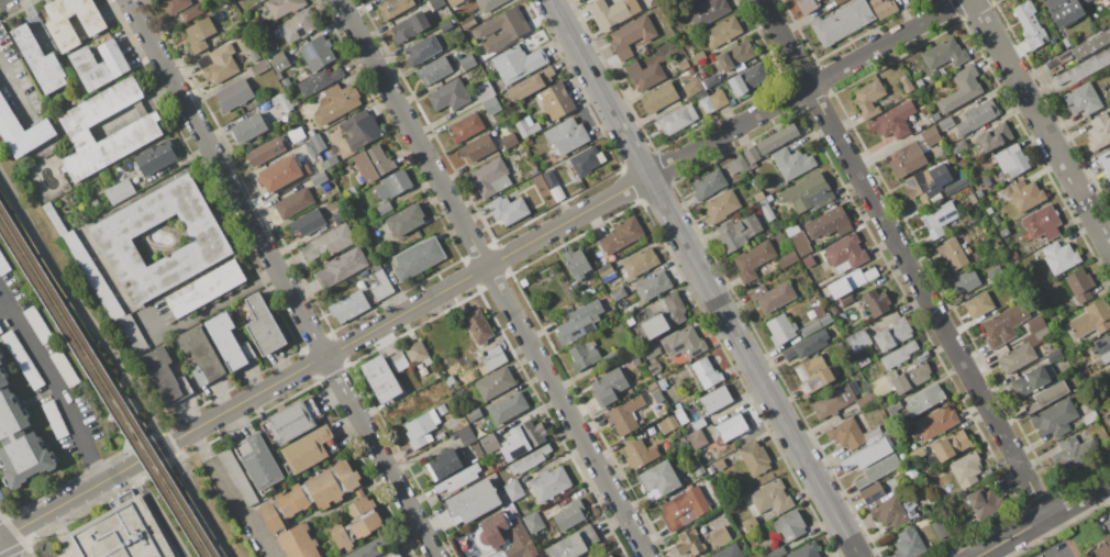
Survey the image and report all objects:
road: (0, 0)
building: (832, 0)
building: (1084, 0)
building: (453, 2)
building: (839, 2)
building: (436, 3)
building: (175, 4)
building: (487, 4)
building: (808, 4)
building: (284, 5)
building: (884, 7)
building: (393, 8)
building: (1064, 10)
building: (708, 11)
building: (191, 12)
building: (613, 12)
building: (842, 22)
building: (467, 23)
building: (1028, 24)
building: (297, 25)
building: (409, 26)
building: (445, 26)
building: (62, 31)
building: (515, 32)
building: (722, 32)
building: (199, 34)
building: (631, 36)
building: (1067, 41)
building: (1090, 44)
building: (423, 49)
building: (463, 52)
building: (317, 53)
building: (945, 54)
building: (254, 55)
building: (735, 55)
building: (698, 57)
building: (481, 58)
building: (38, 60)
building: (279, 62)
building: (467, 62)
building: (518, 63)
building: (98, 65)
building: (218, 65)
building: (684, 65)
building: (671, 66)
building: (260, 67)
building: (1085, 68)
building: (433, 70)
building: (645, 75)
building: (756, 75)
building: (278, 76)
building: (298, 77)
building: (320, 80)
building: (712, 81)
building: (286, 82)
building: (919, 82)
building: (530, 83)
building: (907, 85)
building: (736, 86)
building: (691, 87)
road: (13, 89)
building: (962, 89)
building: (484, 90)
building: (234, 94)
building: (448, 94)
building: (659, 98)
building: (868, 98)
building: (719, 99)
building: (1081, 99)
building: (282, 101)
building: (556, 101)
building: (338, 102)
building: (491, 105)
building: (922, 110)
building: (934, 115)
building: (977, 116)
building: (676, 120)
building: (946, 122)
road: (1041, 122)
building: (889, 124)
building: (526, 126)
building: (465, 127)
building: (249, 129)
building: (362, 129)
building: (22, 131)
building: (138, 131)
building: (1099, 131)
building: (297, 135)
building: (565, 136)
building: (931, 136)
building: (995, 137)
building: (776, 138)
building: (509, 140)
building: (529, 142)
building: (314, 143)
building: (958, 146)
building: (477, 147)
building: (265, 151)
building: (752, 154)
building: (155, 157)
building: (331, 159)
building: (1012, 159)
building: (587, 160)
building: (907, 160)
building: (1106, 161)
building: (791, 163)
building: (963, 163)
building: (373, 164)
building: (737, 166)
building: (543, 170)
building: (533, 171)
building: (302, 172)
building: (280, 176)
building: (319, 178)
building: (490, 178)
building: (550, 178)
building: (396, 182)
building: (709, 183)
building: (928, 185)
building: (956, 186)
building: (325, 187)
building: (120, 191)
building: (351, 191)
building: (557, 193)
building: (808, 193)
building: (1024, 194)
building: (758, 197)
building: (769, 198)
building: (973, 198)
building: (93, 203)
building: (295, 203)
building: (721, 205)
building: (384, 208)
building: (508, 210)
building: (766, 211)
building: (990, 211)
road: (110, 212)
building: (54, 218)
building: (340, 218)
building: (404, 219)
building: (996, 219)
building: (939, 220)
building: (308, 222)
building: (829, 223)
building: (1042, 223)
building: (957, 225)
building: (736, 232)
building: (1004, 234)
building: (621, 235)
building: (113, 239)
building: (800, 243)
building: (328, 244)
building: (995, 246)
building: (967, 249)
building: (846, 252)
building: (1013, 253)
building: (952, 254)
building: (418, 257)
building: (1059, 257)
building: (787, 258)
road: (904, 258)
building: (753, 259)
building: (640, 261)
building: (807, 261)
building: (577, 263)
building: (343, 266)
building: (4, 267)
road: (481, 270)
building: (606, 272)
building: (995, 274)
building: (92, 275)
road: (281, 278)
road: (492, 278)
road: (703, 278)
building: (852, 281)
building: (966, 281)
building: (523, 282)
building: (384, 285)
building: (1078, 285)
building: (654, 286)
building: (206, 288)
building: (613, 297)
building: (773, 297)
building: (845, 300)
building: (876, 302)
building: (979, 305)
building: (833, 307)
road: (4, 308)
building: (349, 308)
road: (203, 312)
building: (834, 314)
building: (665, 316)
park: (73, 319)
building: (1091, 319)
building: (630, 321)
building: (579, 322)
building: (1036, 323)
building: (36, 324)
building: (1004, 324)
building: (264, 325)
building: (477, 325)
building: (817, 325)
building: (780, 328)
building: (0, 331)
building: (893, 334)
building: (133, 335)
building: (858, 341)
building: (227, 342)
building: (682, 343)
building: (807, 345)
building: (1103, 347)
building: (651, 350)
building: (417, 352)
building: (201, 353)
building: (1021, 353)
building: (584, 354)
building: (898, 354)
building: (1055, 355)
building: (921, 356)
building: (22, 359)
building: (493, 359)
building: (636, 360)
building: (398, 361)
building: (863, 361)
road: (119, 363)
building: (64, 368)
building: (421, 368)
building: (707, 372)
building: (813, 374)
building: (1109, 374)
building: (165, 376)
building: (435, 376)
building: (198, 377)
building: (911, 378)
building: (380, 379)
building: (449, 380)
building: (1030, 380)
building: (495, 382)
road: (56, 383)
building: (663, 383)
railway: (106, 385)
building: (609, 386)
building: (653, 388)
railway: (100, 393)
building: (1047, 396)
building: (715, 399)
building: (925, 399)
building: (867, 400)
building: (832, 402)
building: (312, 406)
building: (893, 406)
building: (509, 408)
building: (474, 414)
building: (624, 414)
building: (680, 416)
building: (1090, 417)
building: (55, 419)
building: (1054, 419)
building: (290, 422)
building: (936, 422)
building: (669, 423)
building: (698, 424)
building: (732, 427)
building: (420, 430)
building: (466, 434)
building: (851, 434)
building: (522, 438)
building: (697, 438)
building: (488, 439)
building: (20, 441)
building: (951, 446)
building: (307, 449)
building: (477, 449)
building: (917, 453)
building: (640, 454)
building: (1074, 454)
building: (868, 455)
building: (755, 458)
building: (529, 461)
building: (260, 463)
building: (444, 464)
building: (719, 464)
building: (697, 468)
building: (710, 469)
building: (965, 469)
building: (878, 470)
building: (912, 472)
building: (236, 477)
building: (659, 478)
building: (459, 479)
building: (551, 483)
road: (1108, 487)
building: (514, 490)
building: (873, 492)
road: (230, 493)
building: (772, 497)
building: (474, 501)
building: (986, 502)
building: (325, 503)
building: (685, 508)
road: (156, 511)
park: (197, 512)
building: (889, 512)
building: (570, 515)
road: (1044, 519)
building: (533, 522)
building: (790, 525)
building: (940, 528)
building: (121, 531)
road: (1, 535)
building: (720, 535)
building: (506, 536)
building: (298, 542)
building: (689, 542)
building: (909, 543)
building: (574, 544)
road: (9, 547)
building: (373, 547)
building: (1103, 547)
building: (806, 550)
building: (729, 552)
building: (777, 553)
building: (396, 555)
building: (609, 555)
road: (1064, 555)
building: (1109, 556)

